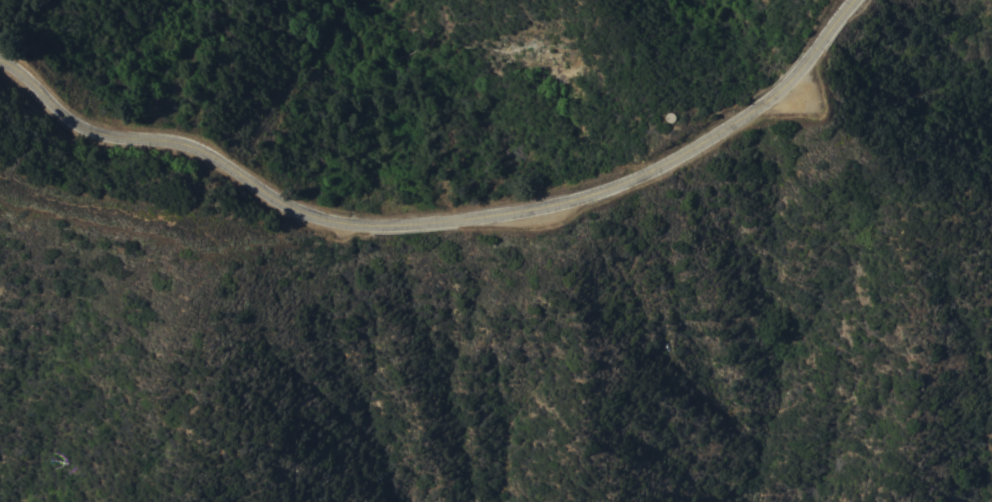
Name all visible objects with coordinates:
building: (669, 118)
storage tank: (669, 118)
road: (440, 220)
road: (158, 234)

